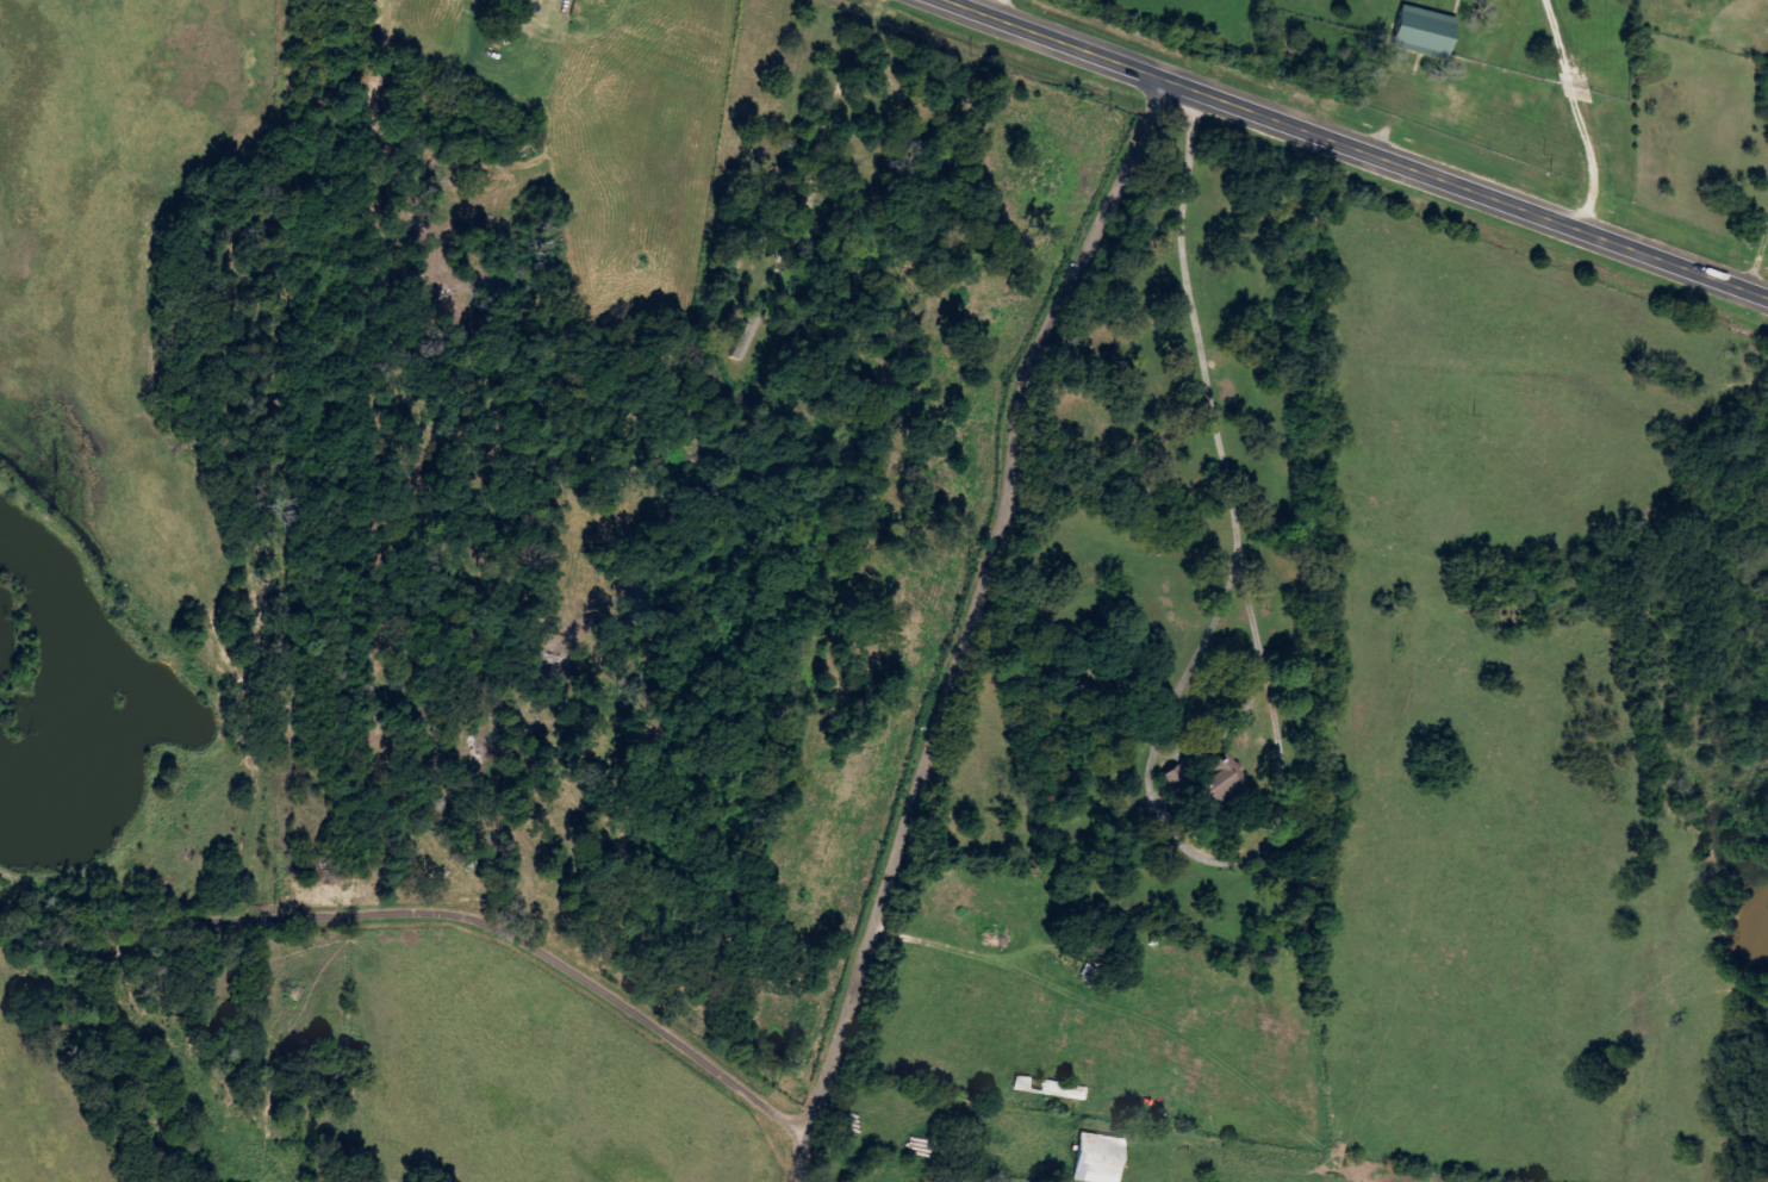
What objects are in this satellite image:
road: (994, 11)
building: (1426, 31)
road: (1349, 150)
road: (1201, 326)
building: (749, 336)
road: (957, 627)
building: (1222, 777)
road: (1291, 840)
road: (421, 928)
building: (1053, 1089)
building: (1101, 1158)

